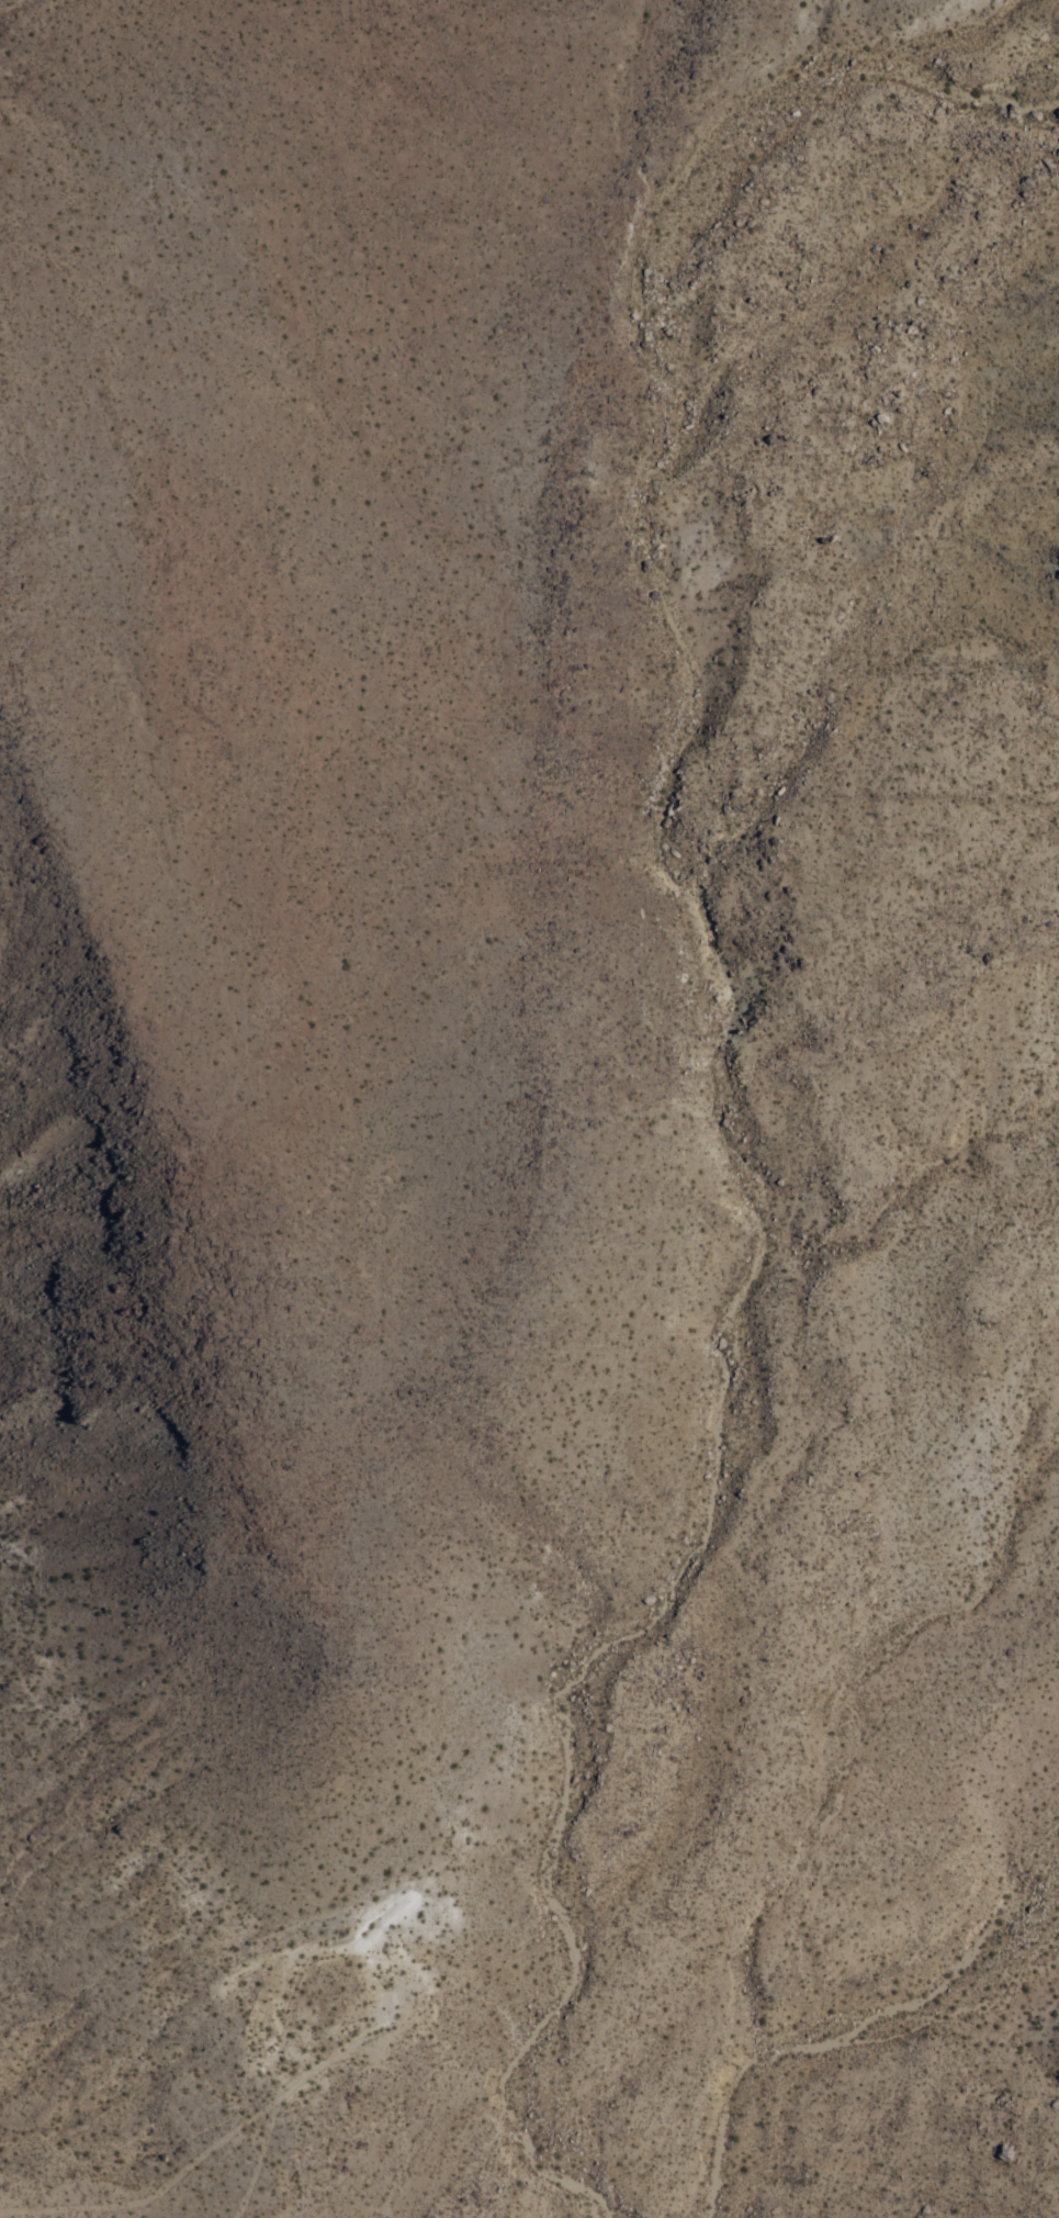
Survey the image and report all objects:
road: (201, 2178)

